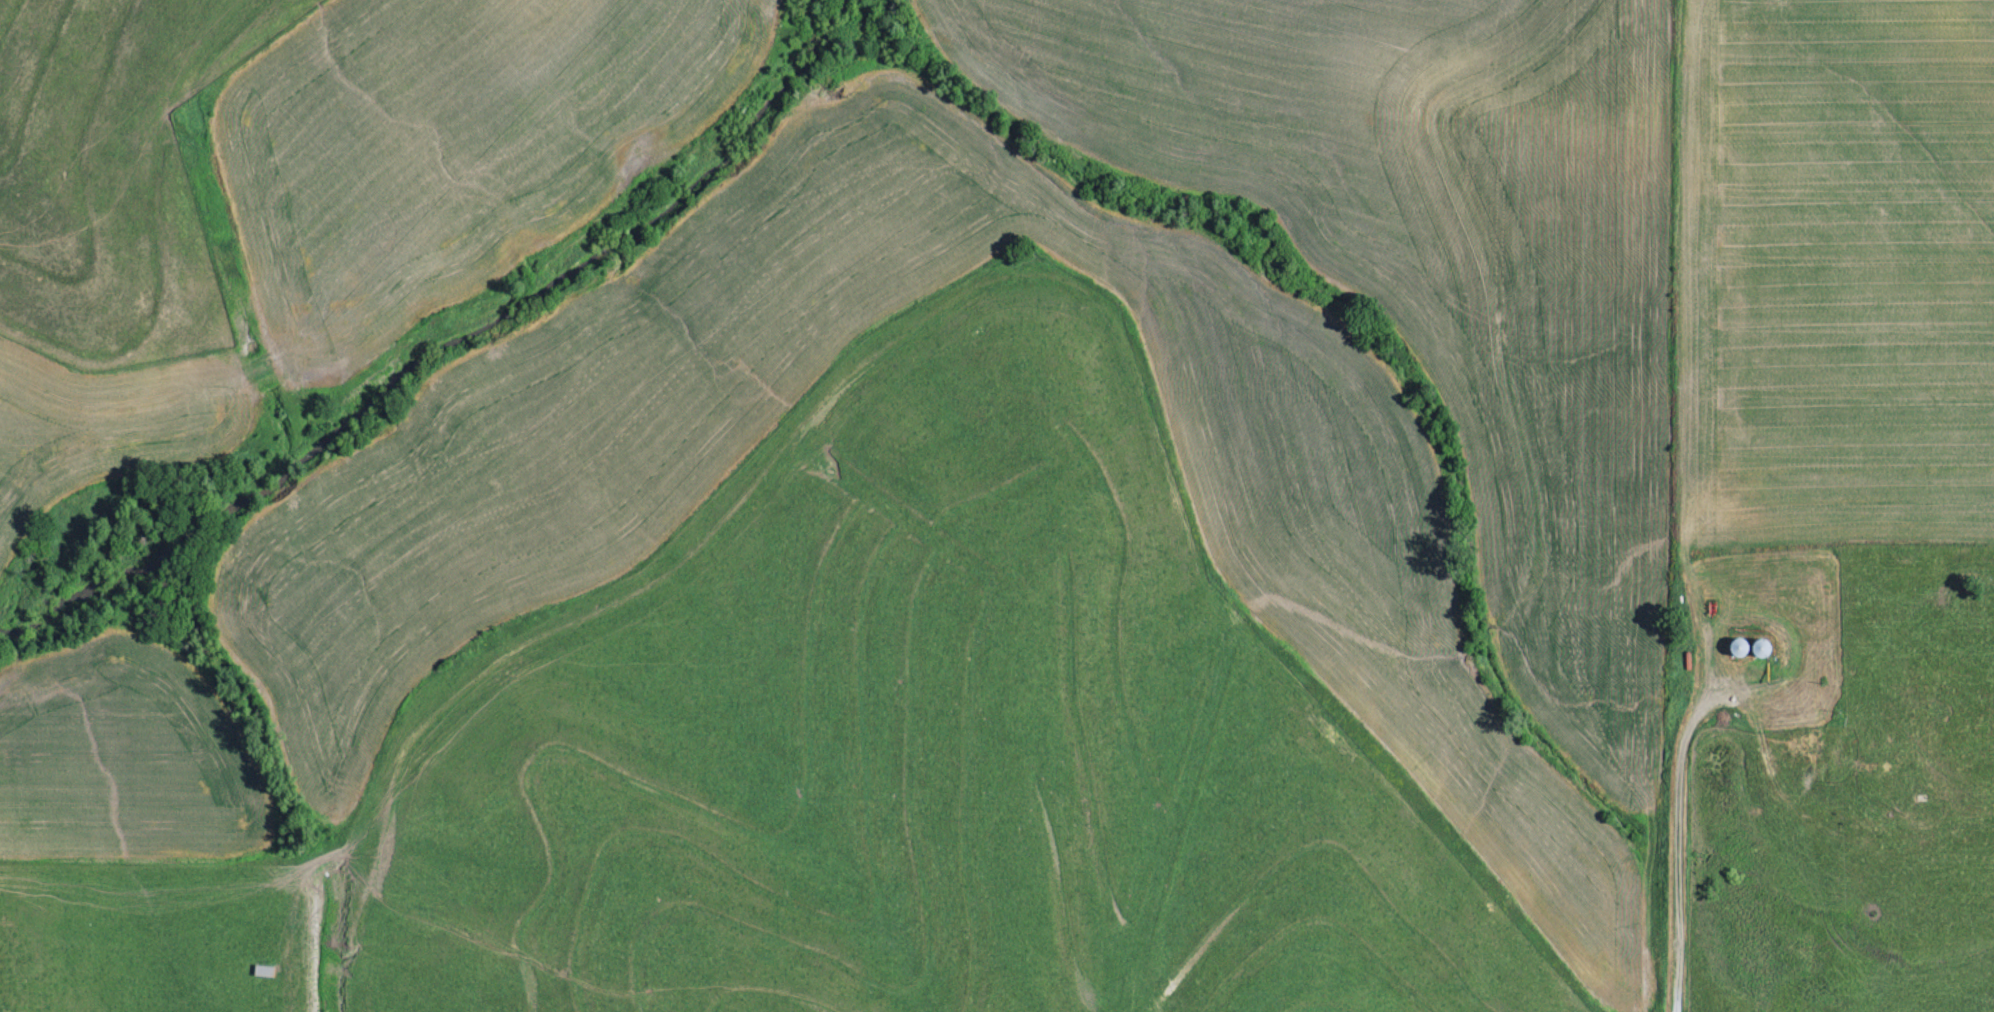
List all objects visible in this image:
building: (1739, 646)
building: (1763, 646)
building: (1801, 741)
building: (1867, 766)
building: (1918, 820)
road: (1680, 848)

